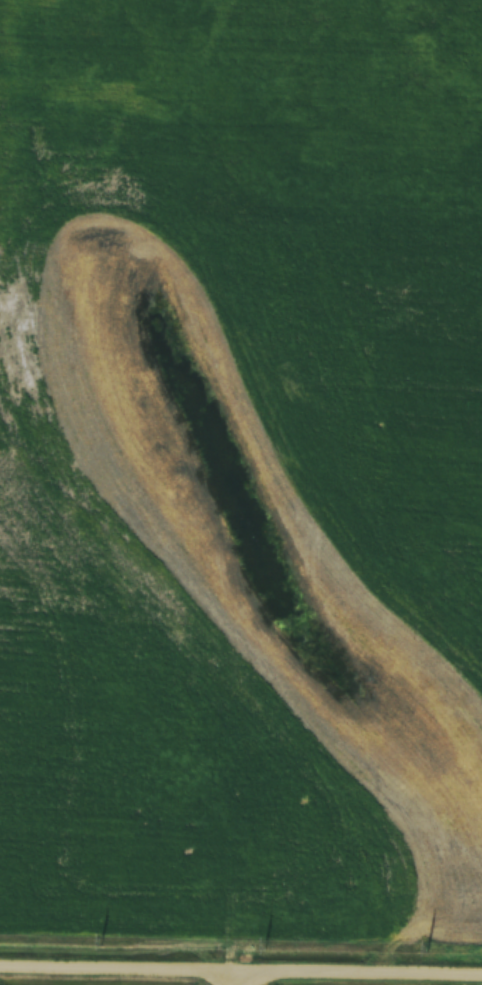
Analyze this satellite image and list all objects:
road: (240, 974)
road: (267, 980)

